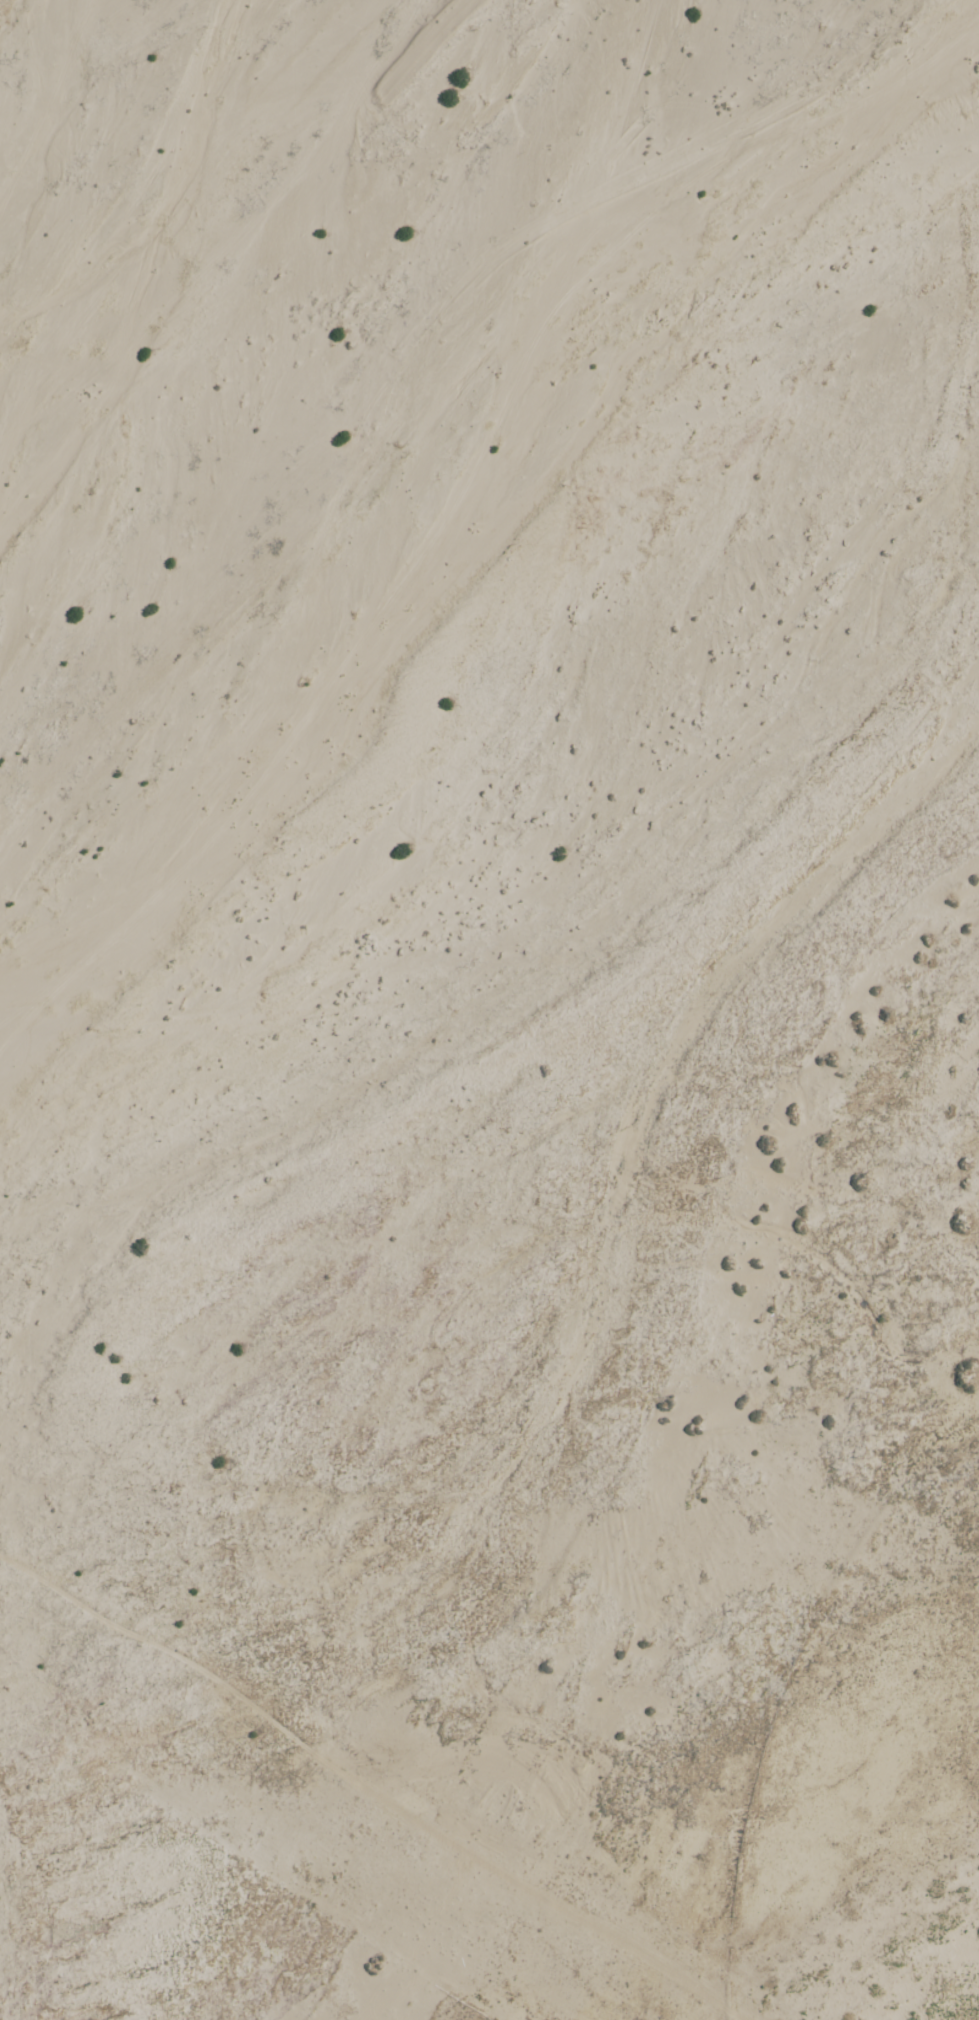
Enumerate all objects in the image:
river: (437, 713)

